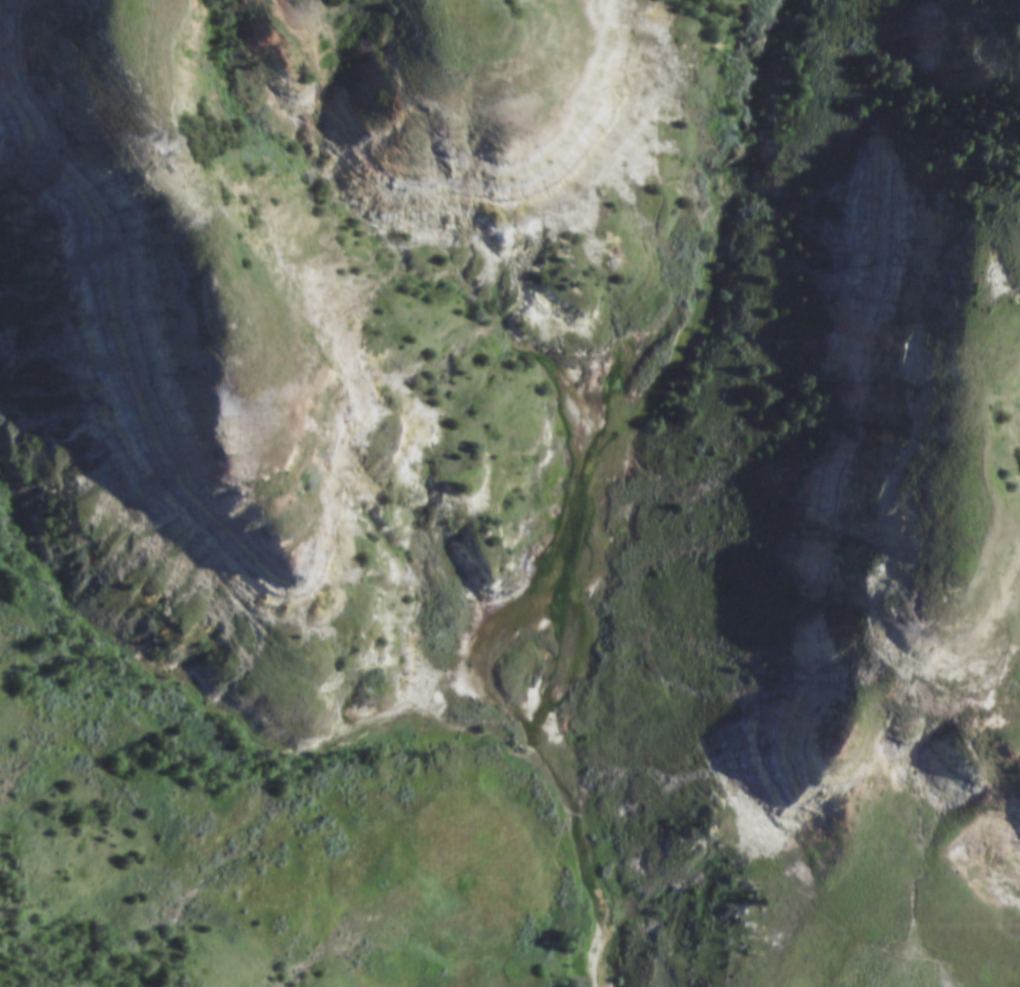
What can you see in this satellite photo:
road: (207, 889)

